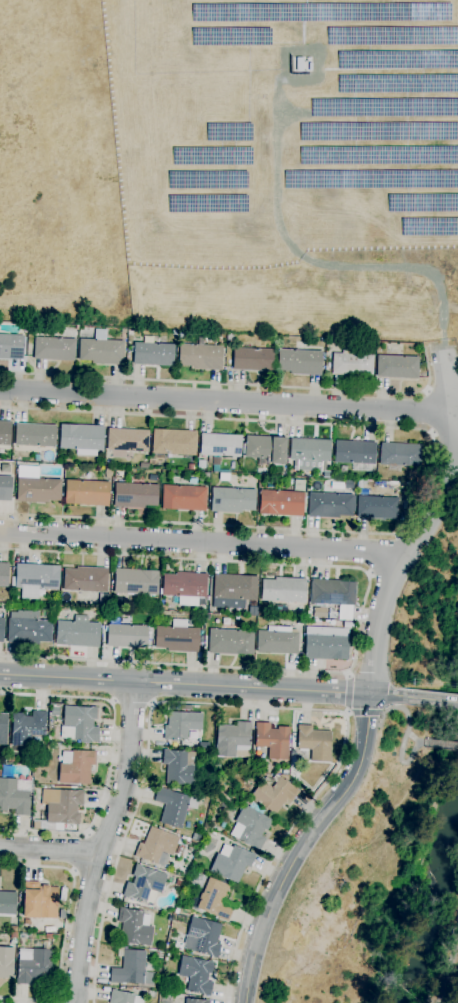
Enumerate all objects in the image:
building: (318, 12)
building: (232, 35)
building: (393, 36)
building: (397, 59)
building: (397, 83)
building: (384, 108)
solar farm: (282, 128)
building: (378, 130)
building: (227, 132)
building: (211, 155)
building: (378, 155)
park: (231, 167)
building: (207, 179)
building: (370, 179)
building: (421, 202)
building: (205, 203)
road: (277, 212)
building: (428, 227)
building: (181, 335)
building: (230, 337)
building: (324, 344)
building: (11, 347)
building: (54, 349)
building: (100, 349)
building: (153, 354)
building: (200, 356)
building: (253, 359)
building: (299, 362)
building: (351, 363)
building: (397, 367)
road: (236, 384)
road: (225, 401)
road: (429, 412)
building: (5, 433)
building: (35, 435)
building: (81, 438)
building: (127, 440)
building: (174, 442)
building: (220, 445)
building: (265, 449)
building: (310, 453)
building: (355, 454)
building: (400, 455)
building: (216, 461)
building: (144, 465)
building: (190, 467)
building: (343, 469)
road: (428, 469)
building: (107, 473)
building: (206, 476)
building: (224, 477)
building: (348, 484)
building: (299, 485)
building: (35, 486)
building: (5, 488)
building: (86, 493)
building: (135, 495)
building: (183, 498)
building: (232, 500)
building: (282, 503)
building: (330, 505)
building: (377, 508)
road: (427, 526)
road: (201, 542)
road: (383, 554)
building: (3, 574)
building: (35, 579)
building: (85, 580)
building: (136, 582)
building: (185, 587)
building: (233, 590)
building: (283, 590)
building: (332, 593)
building: (165, 603)
building: (320, 612)
road: (361, 613)
building: (146, 614)
building: (332, 615)
building: (127, 620)
building: (296, 627)
building: (1, 628)
building: (28, 628)
building: (202, 628)
building: (77, 632)
building: (149, 633)
building: (126, 636)
building: (177, 637)
building: (277, 641)
building: (230, 642)
building: (326, 647)
road: (200, 685)
road: (349, 692)
road: (429, 700)
road: (132, 704)
building: (185, 707)
road: (257, 707)
building: (54, 710)
road: (364, 713)
building: (79, 724)
building: (181, 725)
building: (27, 727)
building: (3, 728)
building: (233, 740)
building: (272, 740)
road: (402, 741)
building: (314, 743)
building: (203, 745)
road: (441, 745)
road: (111, 756)
building: (11, 759)
building: (76, 767)
building: (181, 767)
building: (215, 767)
building: (0, 773)
building: (273, 793)
building: (14, 796)
building: (62, 805)
building: (174, 806)
building: (220, 808)
building: (38, 825)
building: (250, 826)
building: (177, 832)
building: (186, 834)
building: (184, 838)
road: (102, 841)
building: (156, 845)
road: (303, 845)
building: (178, 850)
road: (48, 851)
road: (79, 852)
building: (231, 863)
building: (192, 868)
park: (381, 877)
building: (178, 882)
building: (144, 885)
building: (211, 897)
building: (39, 901)
building: (7, 902)
building: (183, 906)
river: (434, 910)
building: (176, 911)
building: (61, 914)
road: (66, 926)
building: (134, 927)
building: (13, 928)
building: (13, 935)
building: (48, 937)
building: (203, 937)
building: (158, 955)
building: (6, 962)
building: (34, 965)
building: (130, 968)
building: (196, 975)
road: (454, 985)
building: (151, 994)
building: (123, 998)
building: (165, 1000)
building: (196, 1001)

